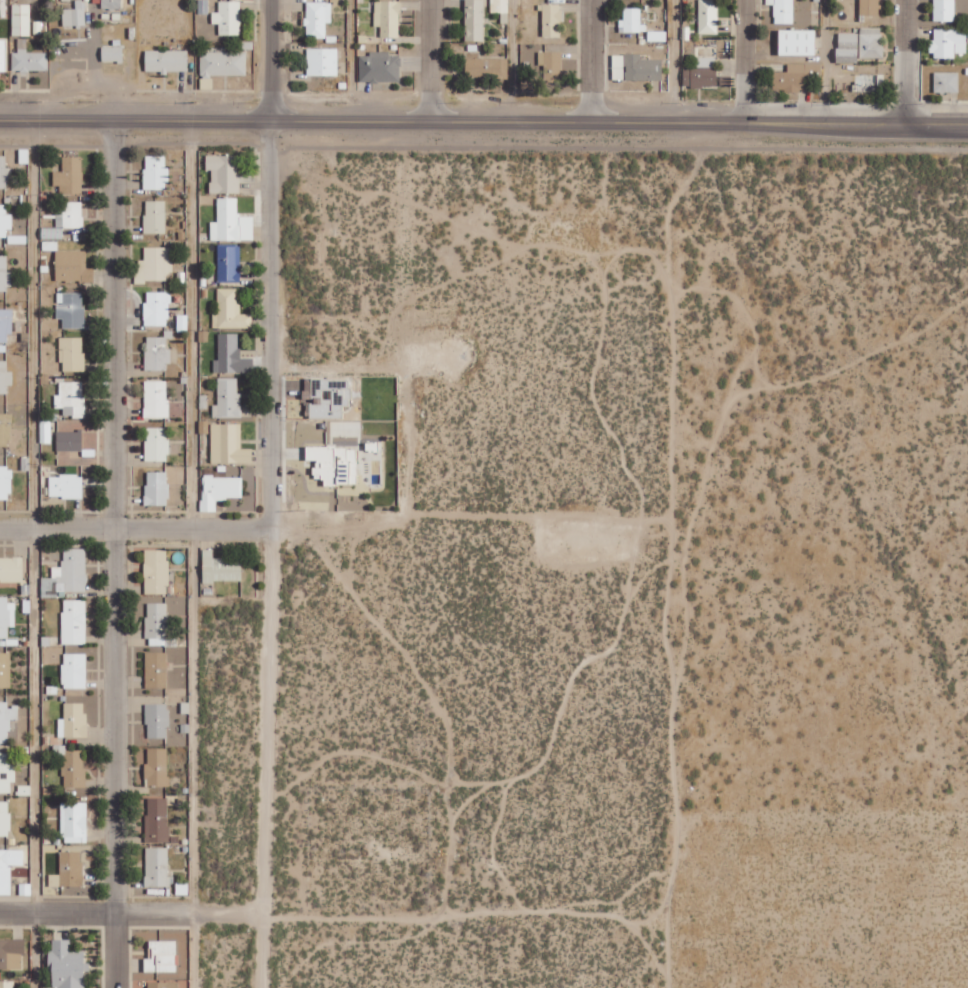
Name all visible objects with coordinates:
building: (111, 4)
building: (500, 6)
building: (870, 7)
building: (944, 10)
building: (783, 11)
building: (74, 15)
building: (708, 16)
building: (228, 18)
building: (388, 18)
building: (317, 19)
building: (21, 20)
building: (475, 20)
building: (552, 20)
building: (632, 21)
building: (798, 43)
building: (948, 43)
building: (860, 45)
building: (3, 54)
building: (112, 54)
building: (28, 59)
building: (167, 61)
road: (430, 61)
road: (745, 61)
road: (907, 61)
building: (322, 62)
road: (590, 62)
building: (223, 64)
building: (551, 66)
building: (380, 67)
building: (487, 68)
building: (636, 68)
building: (701, 74)
building: (795, 77)
building: (946, 82)
building: (867, 83)
road: (484, 122)
building: (156, 172)
building: (4, 173)
building: (224, 173)
building: (70, 175)
building: (155, 216)
building: (65, 220)
building: (5, 221)
building: (231, 222)
building: (229, 263)
building: (155, 264)
building: (4, 274)
building: (157, 308)
building: (71, 309)
building: (230, 311)
building: (6, 324)
building: (71, 349)
building: (157, 353)
building: (5, 378)
building: (327, 397)
building: (71, 398)
building: (156, 399)
building: (228, 399)
building: (5, 430)
building: (69, 440)
building: (226, 443)
building: (157, 444)
building: (335, 464)
building: (5, 483)
building: (66, 486)
building: (157, 488)
building: (219, 490)
road: (274, 494)
road: (137, 527)
road: (34, 554)
road: (115, 554)
road: (191, 554)
building: (11, 568)
building: (221, 568)
building: (156, 571)
building: (67, 574)
building: (6, 615)
building: (74, 621)
building: (5, 669)
building: (156, 669)
building: (74, 670)
building: (7, 719)
building: (73, 720)
building: (157, 720)
building: (157, 767)
building: (6, 773)
building: (4, 818)
building: (157, 819)
building: (74, 822)
building: (157, 866)
building: (8, 867)
building: (68, 870)
road: (130, 913)
building: (11, 953)
building: (161, 956)
building: (7, 984)
building: (162, 984)

